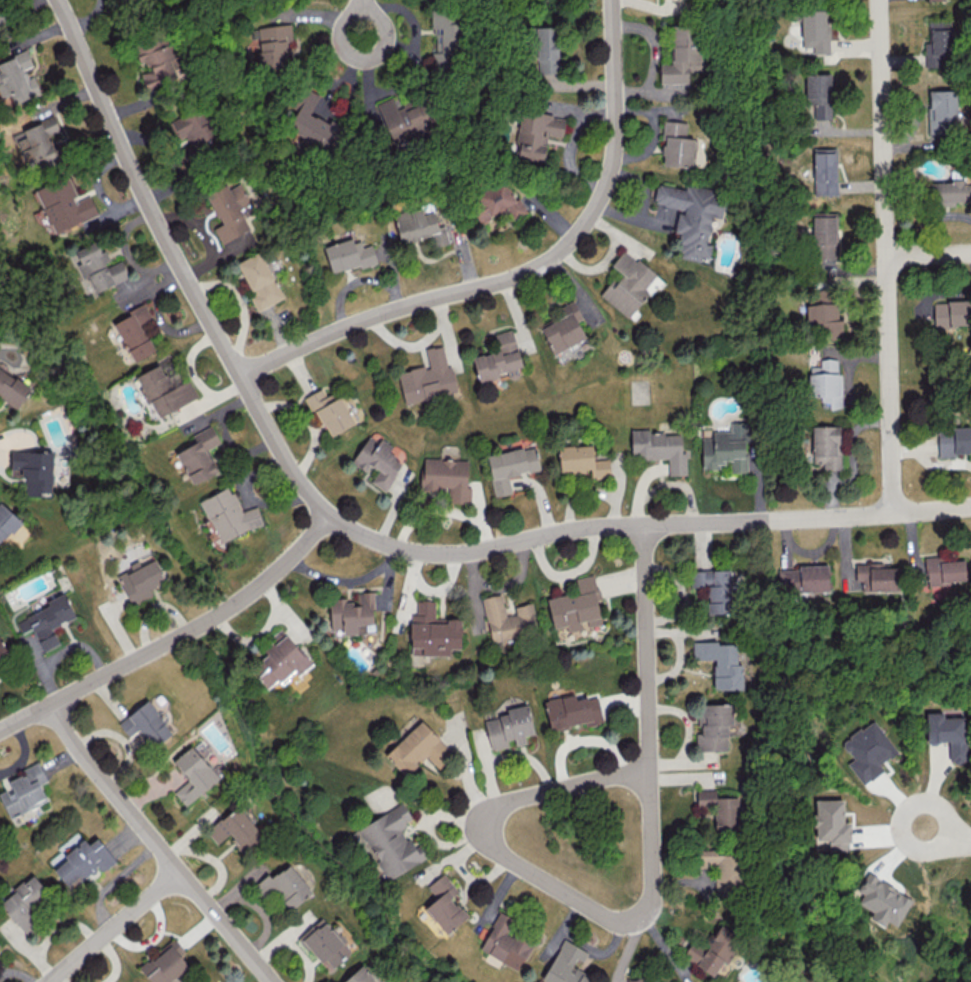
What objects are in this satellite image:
building: (931, 0)
road: (362, 16)
building: (0, 17)
building: (446, 30)
building: (815, 30)
building: (938, 44)
building: (274, 46)
building: (546, 49)
building: (681, 63)
building: (156, 66)
building: (17, 78)
building: (819, 94)
building: (942, 110)
building: (402, 118)
building: (313, 124)
building: (195, 128)
building: (537, 133)
building: (40, 140)
building: (676, 145)
building: (824, 171)
building: (950, 192)
building: (495, 201)
building: (64, 204)
building: (229, 210)
building: (690, 216)
building: (420, 226)
building: (824, 235)
building: (349, 254)
road: (928, 254)
road: (884, 256)
road: (181, 263)
building: (99, 266)
road: (528, 272)
building: (259, 281)
building: (629, 284)
building: (952, 312)
building: (823, 315)
building: (564, 328)
building: (135, 331)
building: (499, 358)
building: (428, 378)
building: (826, 381)
building: (12, 389)
building: (164, 390)
building: (330, 411)
building: (953, 441)
building: (826, 446)
building: (725, 447)
building: (660, 448)
building: (199, 455)
building: (377, 460)
building: (581, 460)
building: (510, 466)
building: (32, 469)
building: (447, 477)
building: (229, 514)
building: (6, 521)
road: (645, 526)
building: (944, 574)
building: (876, 576)
building: (140, 578)
building: (802, 578)
building: (714, 588)
building: (576, 606)
building: (353, 613)
building: (508, 619)
building: (47, 620)
building: (432, 631)
road: (176, 639)
road: (643, 647)
building: (4, 657)
building: (281, 660)
building: (720, 662)
building: (572, 711)
building: (146, 724)
building: (509, 727)
building: (713, 727)
building: (947, 733)
building: (417, 749)
building: (868, 750)
building: (193, 774)
building: (24, 790)
road: (518, 798)
building: (720, 808)
building: (831, 824)
building: (234, 829)
road: (946, 833)
building: (391, 841)
road: (157, 847)
building: (83, 861)
building: (722, 871)
building: (285, 886)
building: (882, 900)
building: (23, 901)
building: (444, 904)
road: (113, 927)
building: (325, 943)
building: (505, 943)
building: (1, 948)
building: (713, 950)
building: (165, 963)
building: (565, 964)
building: (362, 975)
building: (636, 980)

